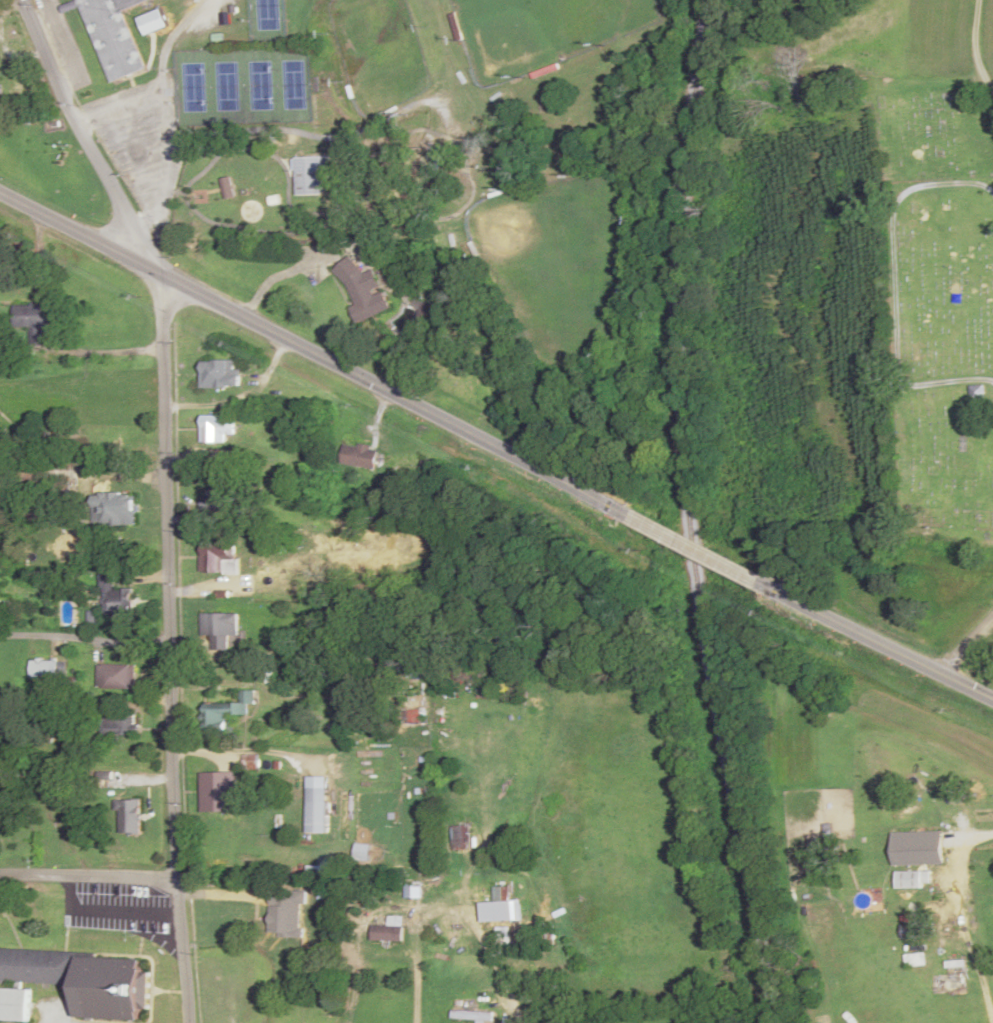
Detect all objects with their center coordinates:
building: (114, 36)
road: (975, 46)
road: (85, 139)
building: (310, 174)
building: (363, 290)
building: (32, 322)
road: (316, 355)
building: (209, 376)
building: (978, 392)
building: (216, 428)
building: (358, 456)
building: (218, 498)
building: (115, 509)
railway: (691, 512)
road: (698, 549)
building: (219, 561)
building: (118, 602)
building: (217, 630)
road: (86, 639)
road: (877, 640)
road: (173, 648)
road: (968, 648)
building: (48, 669)
building: (116, 677)
building: (227, 712)
building: (124, 724)
building: (216, 794)
building: (130, 817)
building: (463, 837)
building: (920, 848)
building: (361, 852)
road: (88, 877)
building: (820, 922)
building: (387, 931)
building: (911, 943)
building: (84, 980)
building: (14, 1004)
building: (471, 1016)

